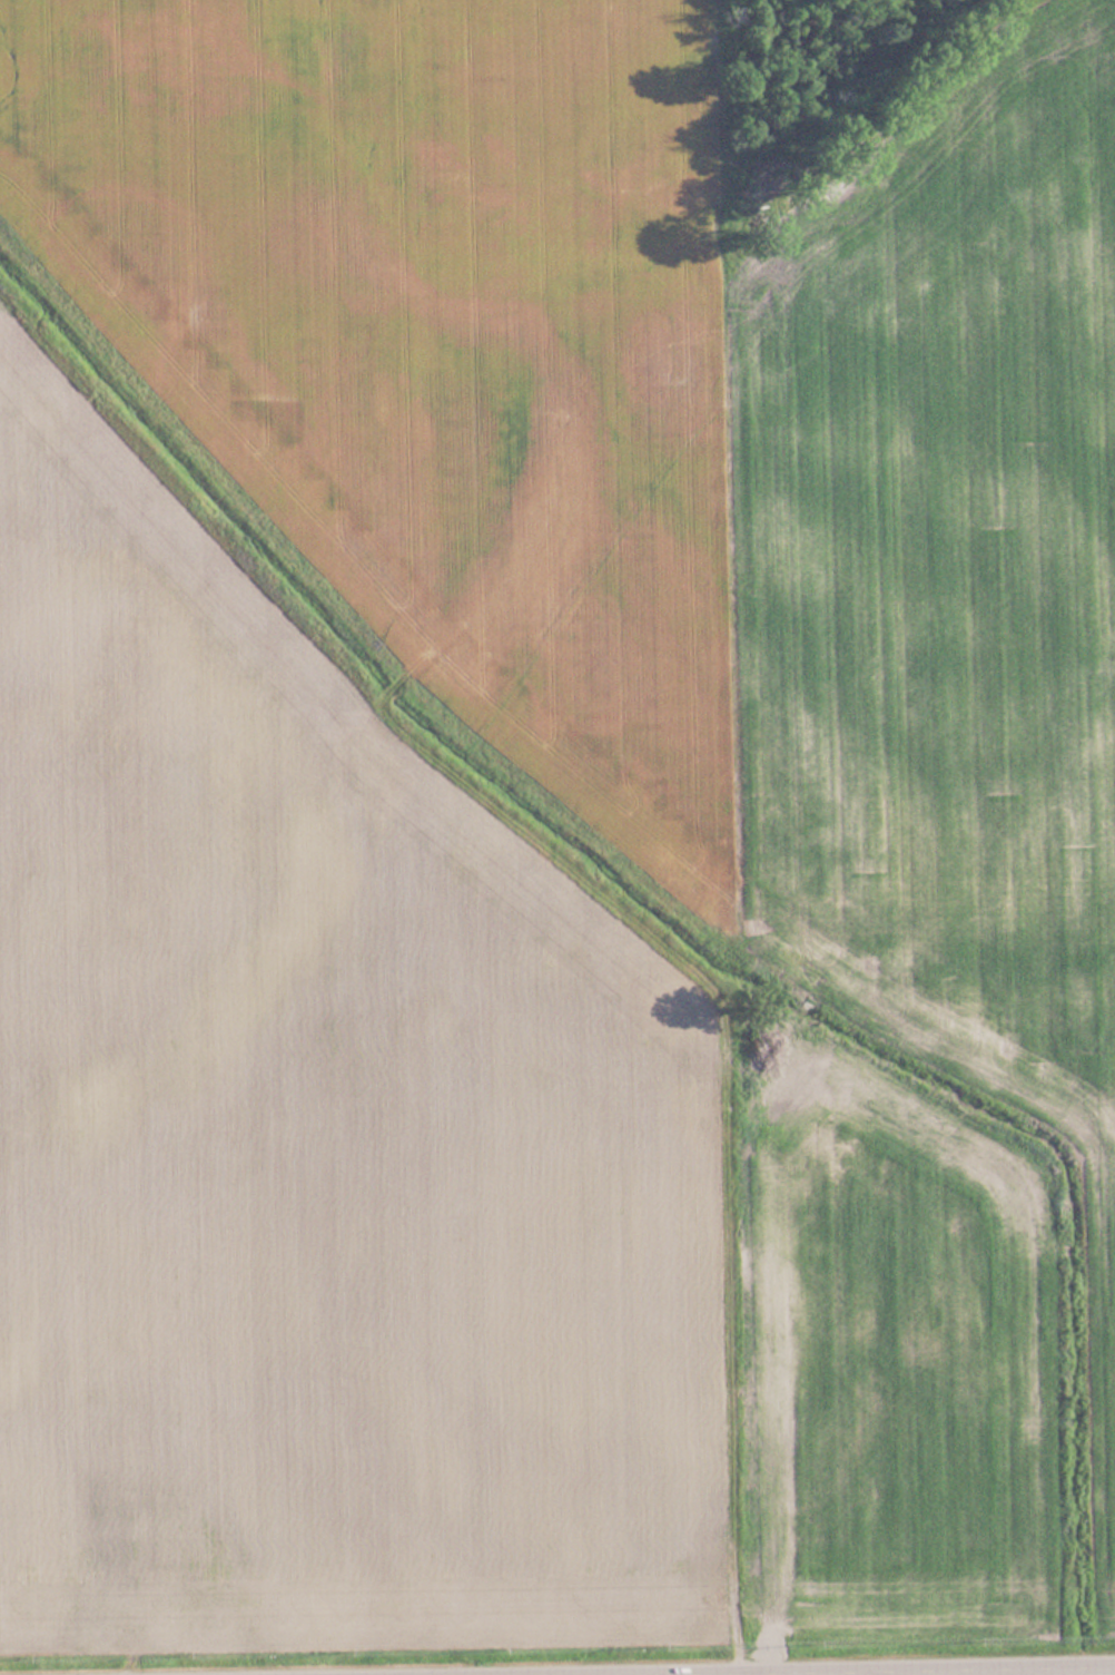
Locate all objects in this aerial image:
road: (876, 1671)

